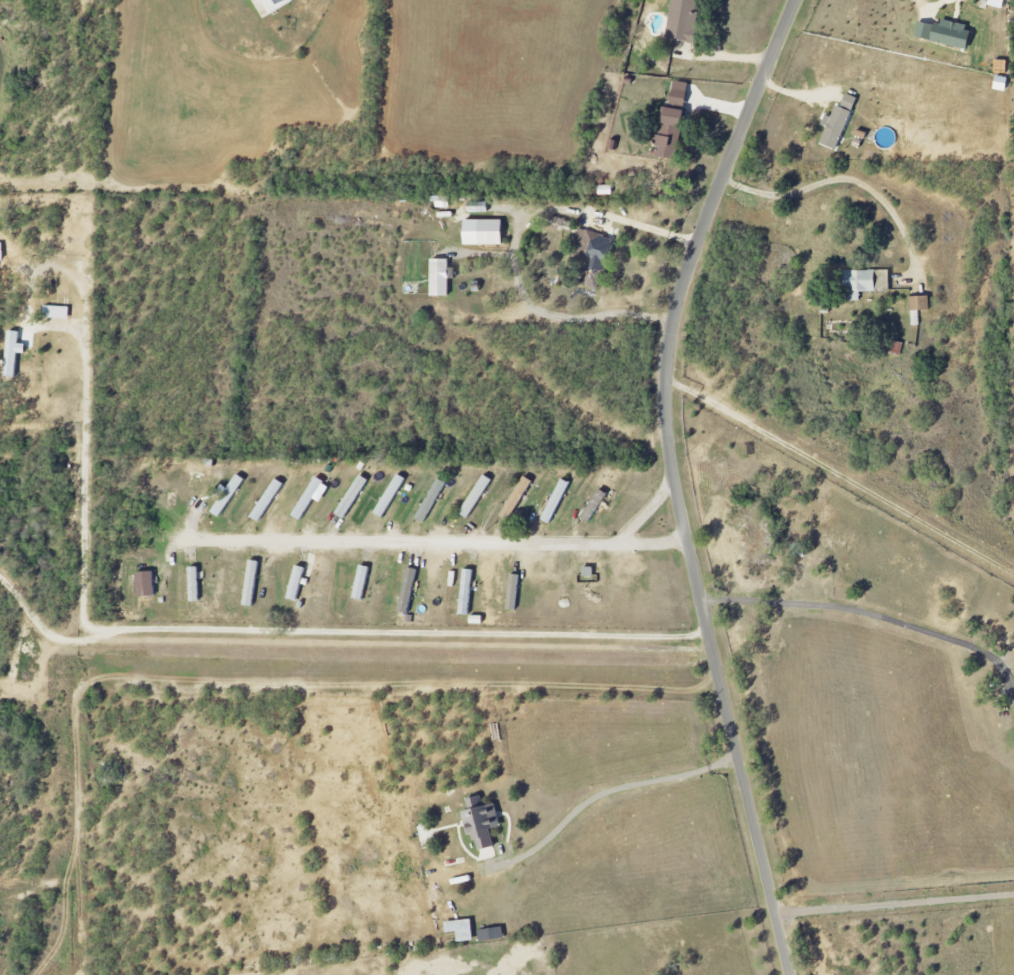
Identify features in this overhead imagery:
building: (277, 5)
road: (935, 5)
building: (684, 20)
building: (945, 35)
building: (680, 93)
building: (838, 122)
building: (671, 135)
road: (842, 176)
building: (484, 232)
road: (513, 242)
building: (589, 253)
building: (440, 278)
building: (860, 283)
building: (919, 310)
building: (56, 313)
building: (13, 354)
road: (842, 475)
building: (196, 481)
road: (675, 482)
building: (228, 496)
building: (475, 496)
building: (391, 497)
building: (517, 497)
building: (308, 498)
building: (267, 500)
building: (431, 500)
building: (556, 501)
building: (594, 505)
road: (645, 514)
road: (400, 544)
road: (651, 547)
building: (361, 583)
building: (146, 584)
building: (407, 591)
road: (866, 616)
road: (147, 628)
road: (43, 633)
road: (609, 792)
building: (482, 823)
road: (895, 901)
building: (491, 934)

